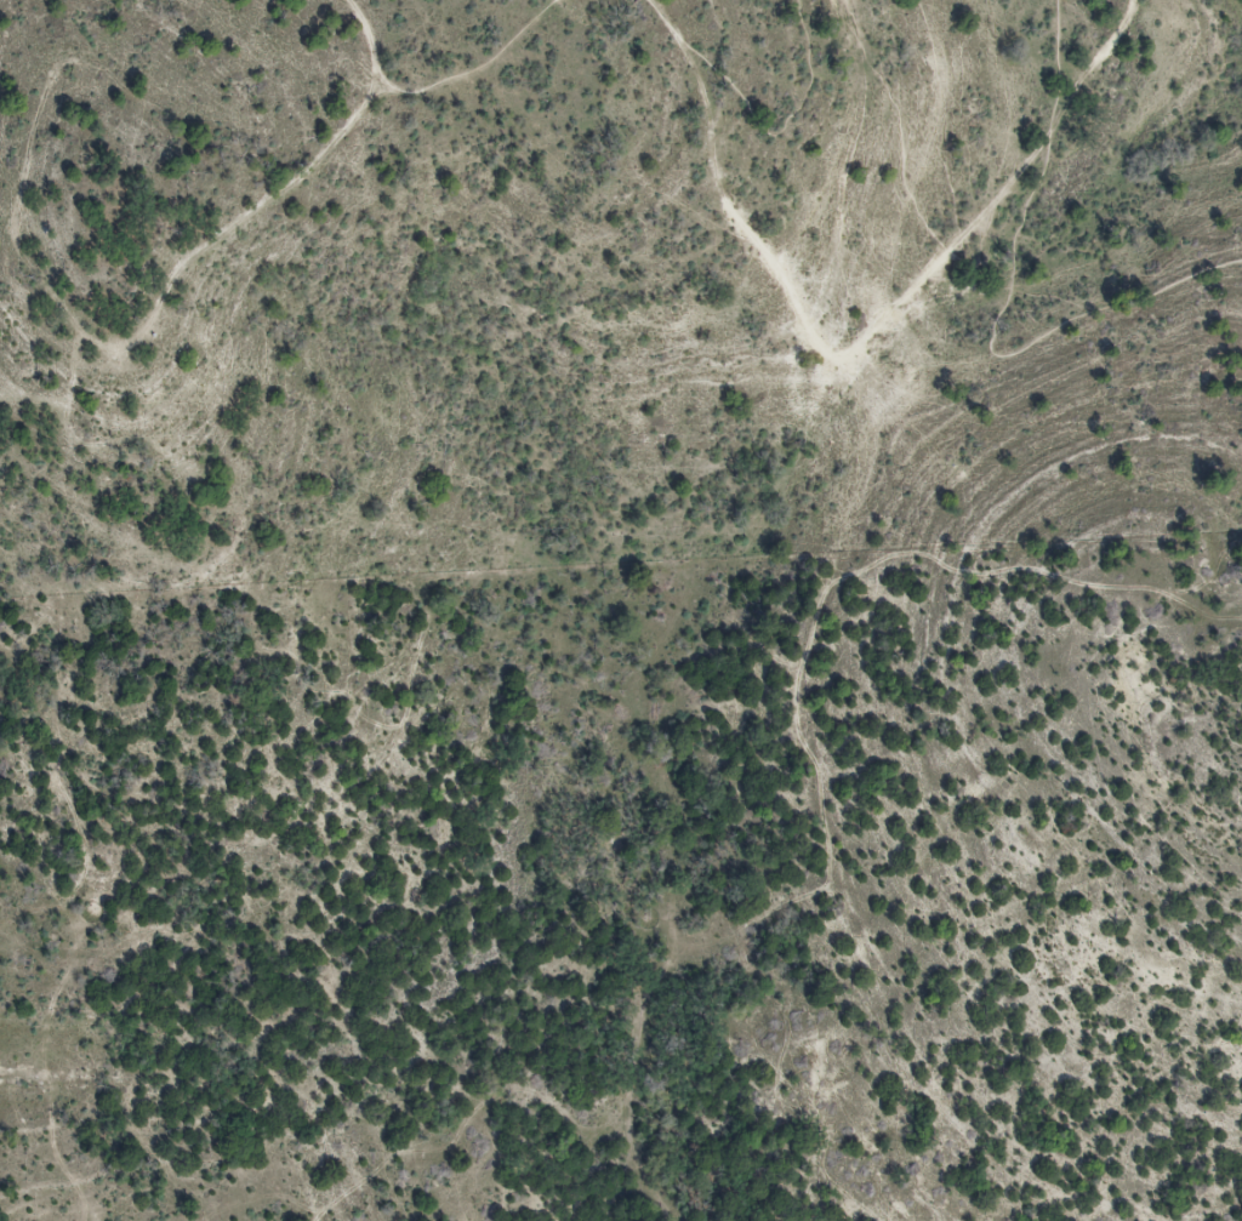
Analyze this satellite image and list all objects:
road: (666, 17)
road: (1087, 29)
road: (370, 39)
road: (477, 65)
road: (776, 132)
road: (995, 327)
road: (879, 331)

